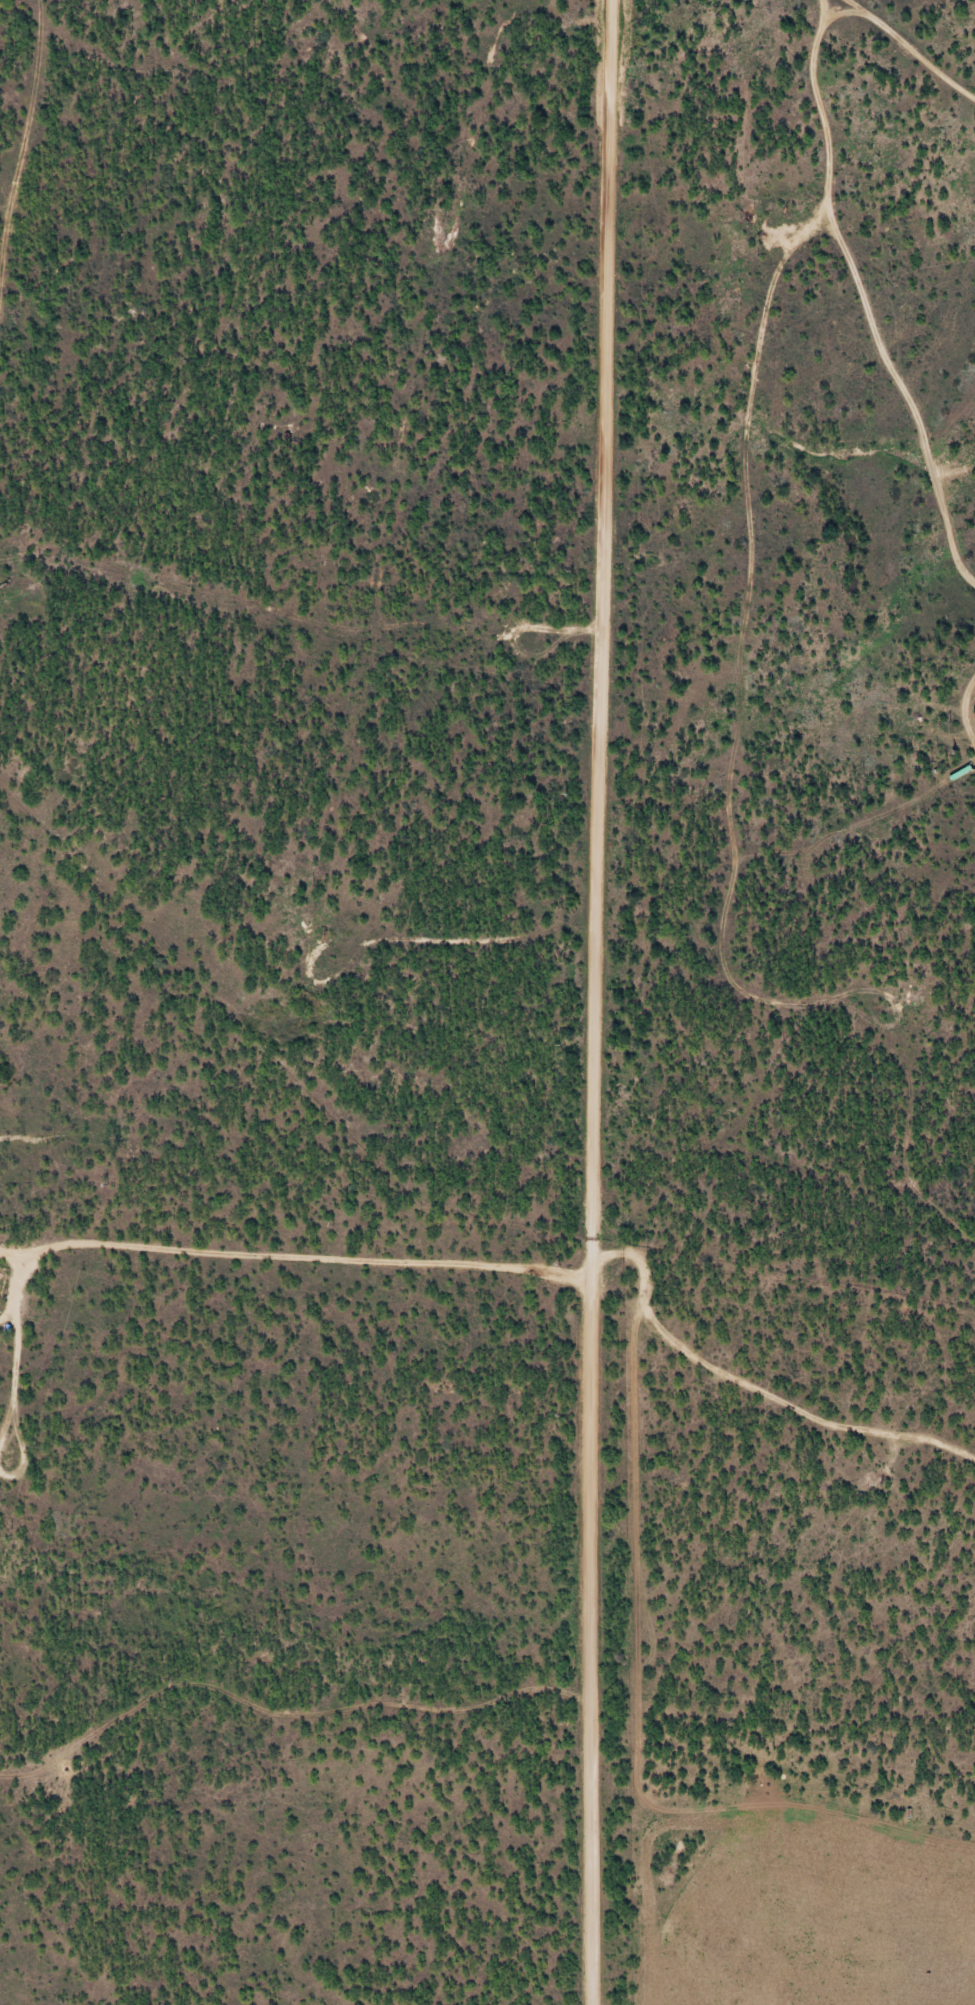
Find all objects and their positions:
road: (840, 9)
road: (900, 51)
road: (901, 401)
road: (960, 715)
road: (748, 754)
road: (972, 761)
road: (779, 858)
road: (595, 1002)
road: (16, 1289)
road: (251, 1983)

